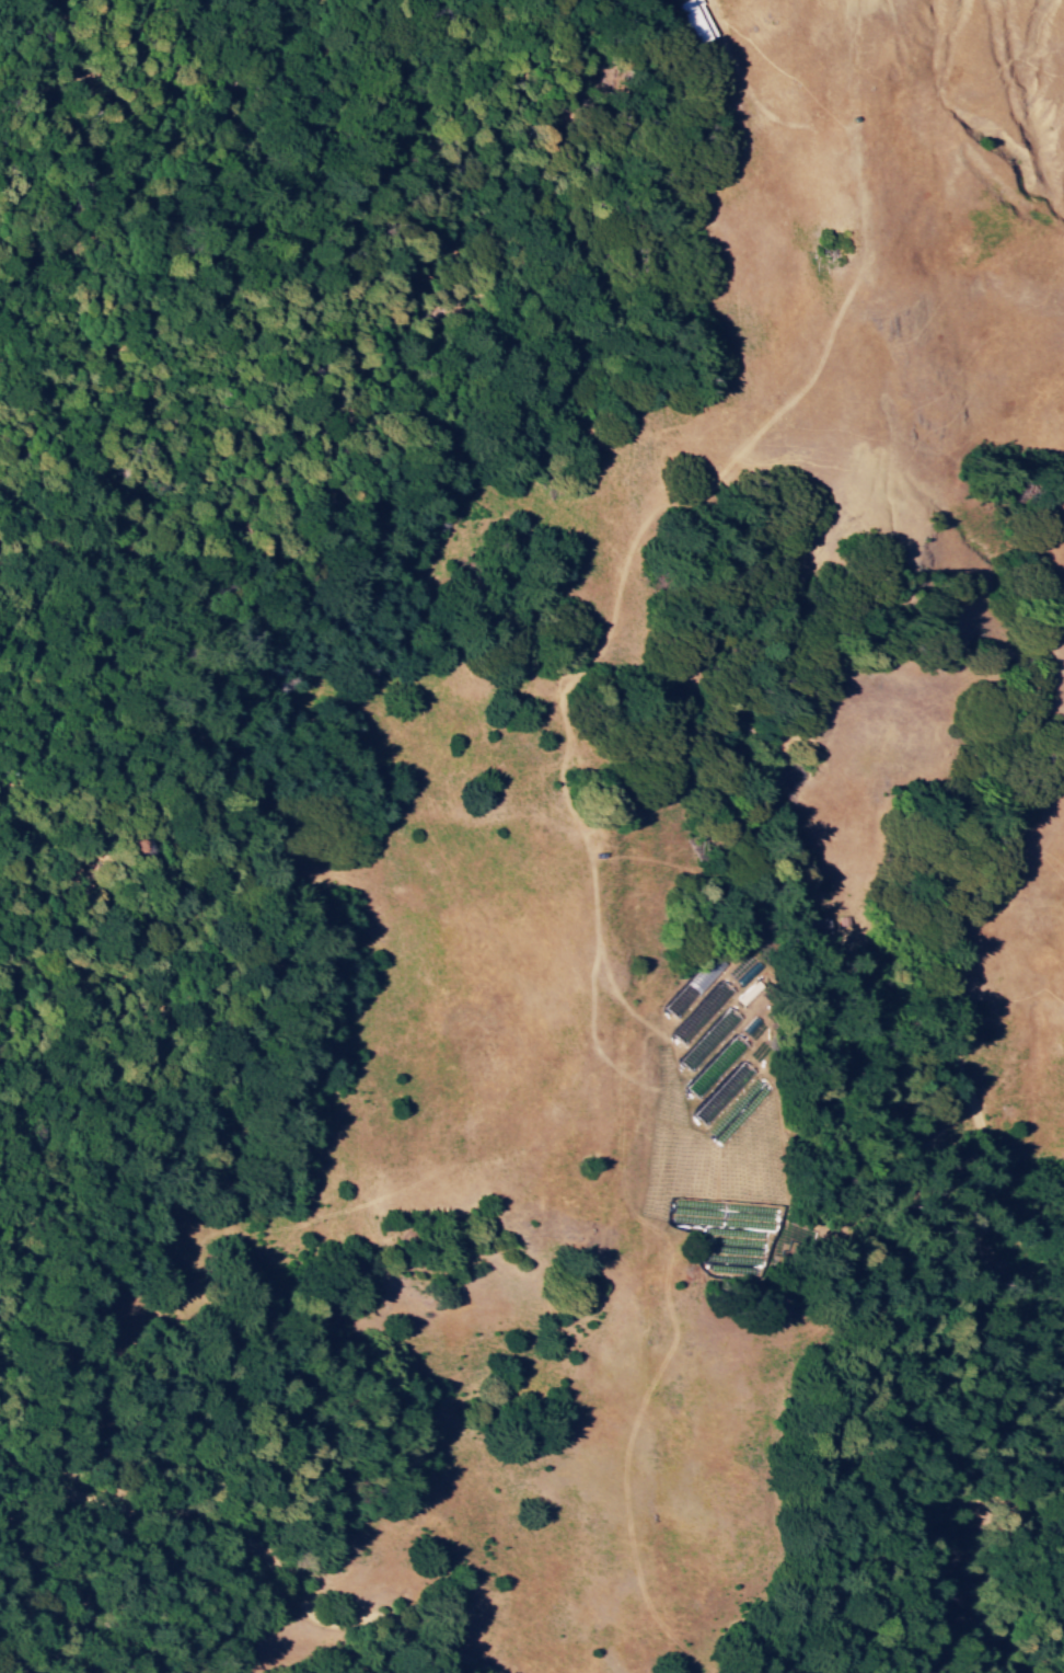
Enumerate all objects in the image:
building: (692, 989)
building: (703, 1012)
building: (710, 1039)
building: (717, 1066)
building: (724, 1092)
road: (257, 1540)
road: (73, 1586)
road: (938, 1613)

